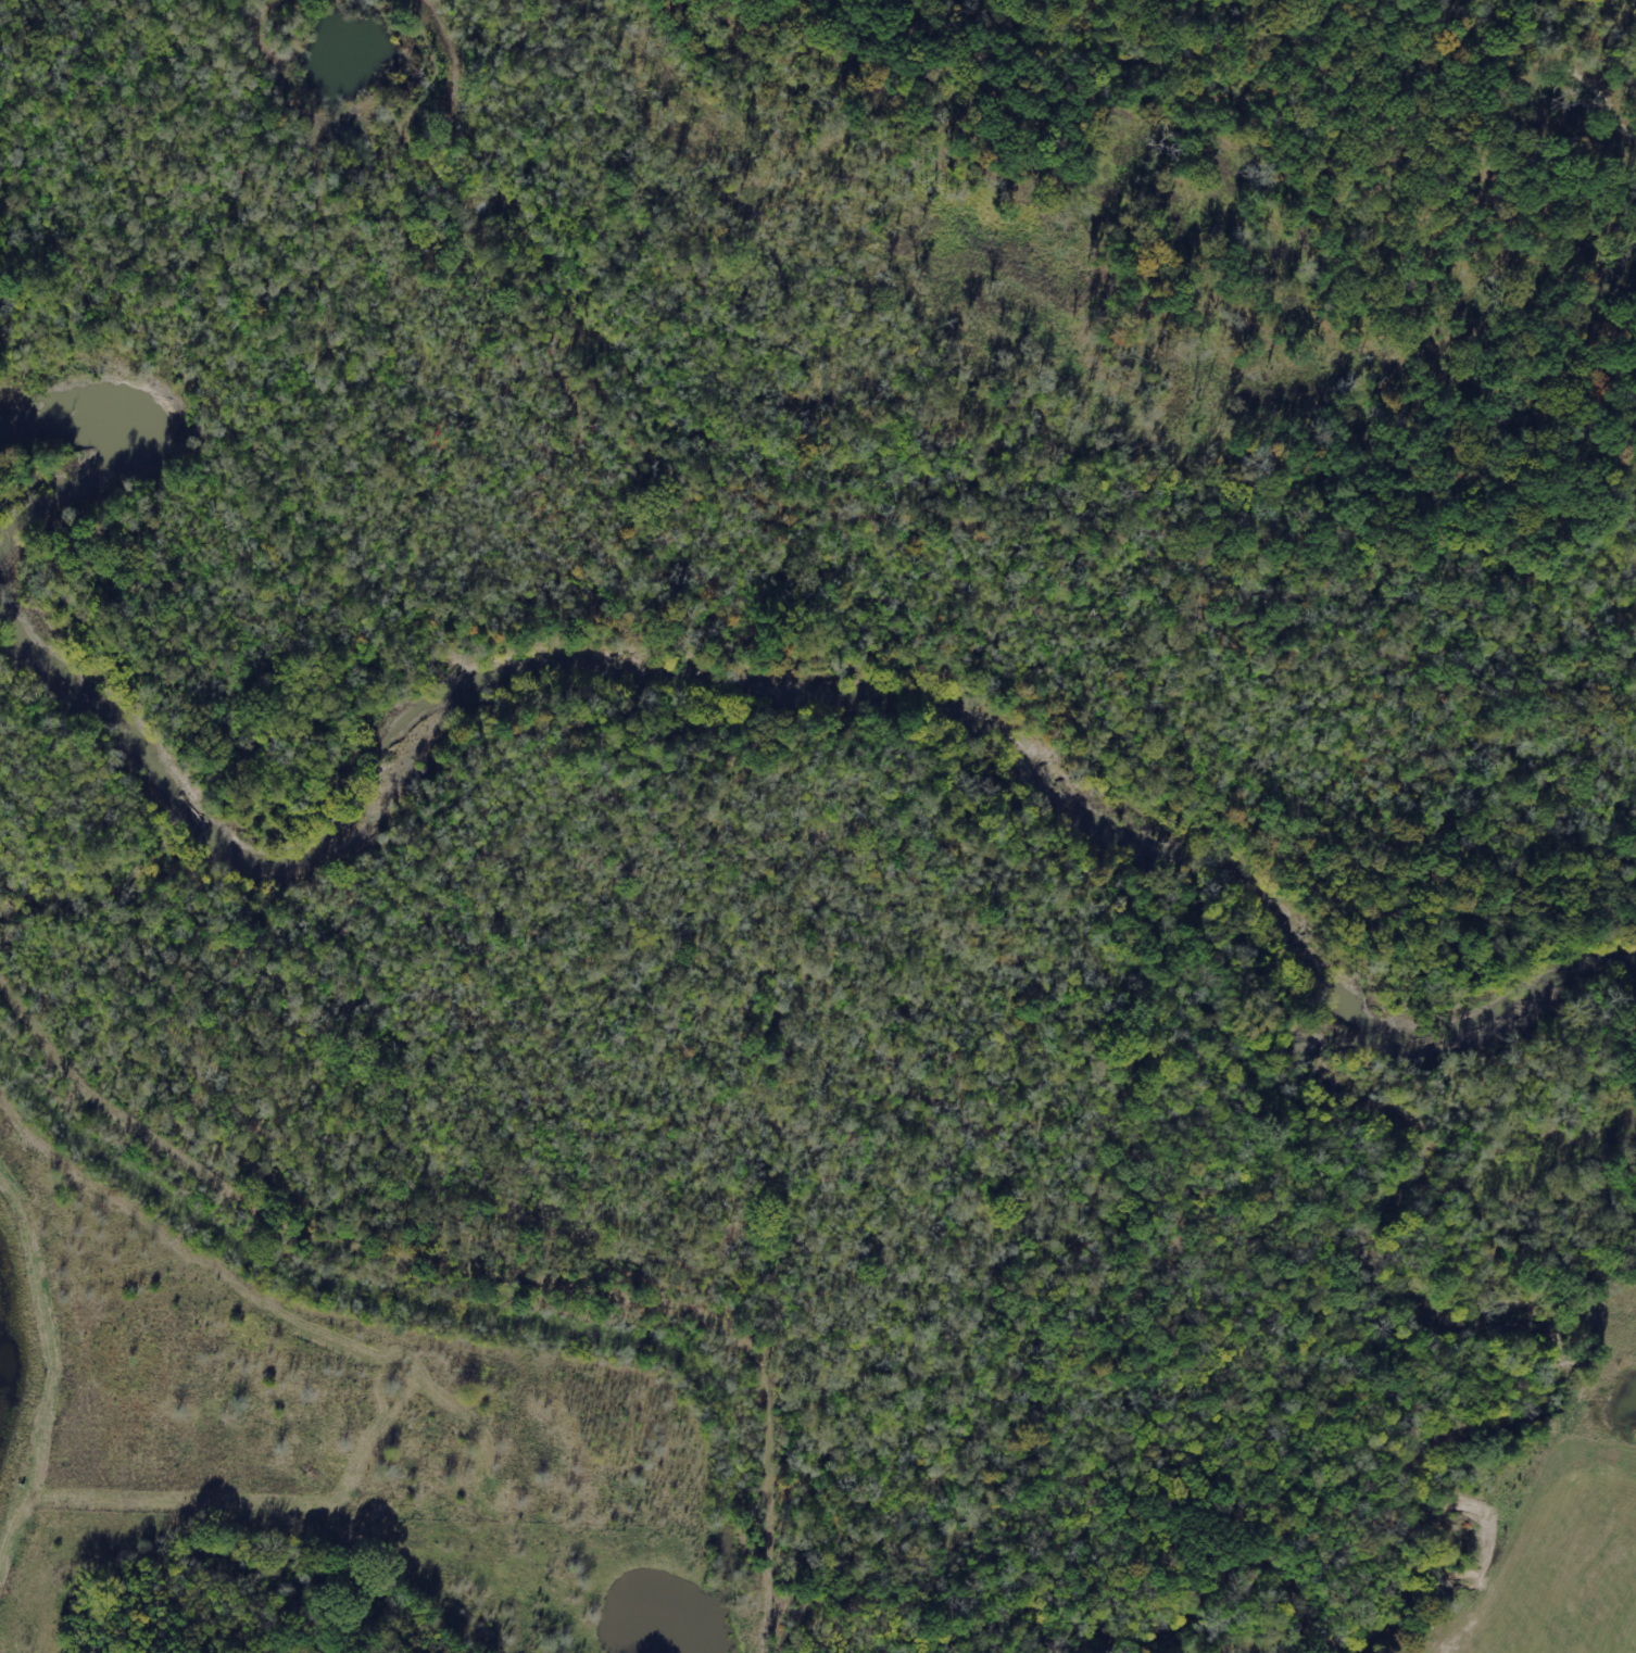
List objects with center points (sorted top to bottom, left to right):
river: (593, 658)

